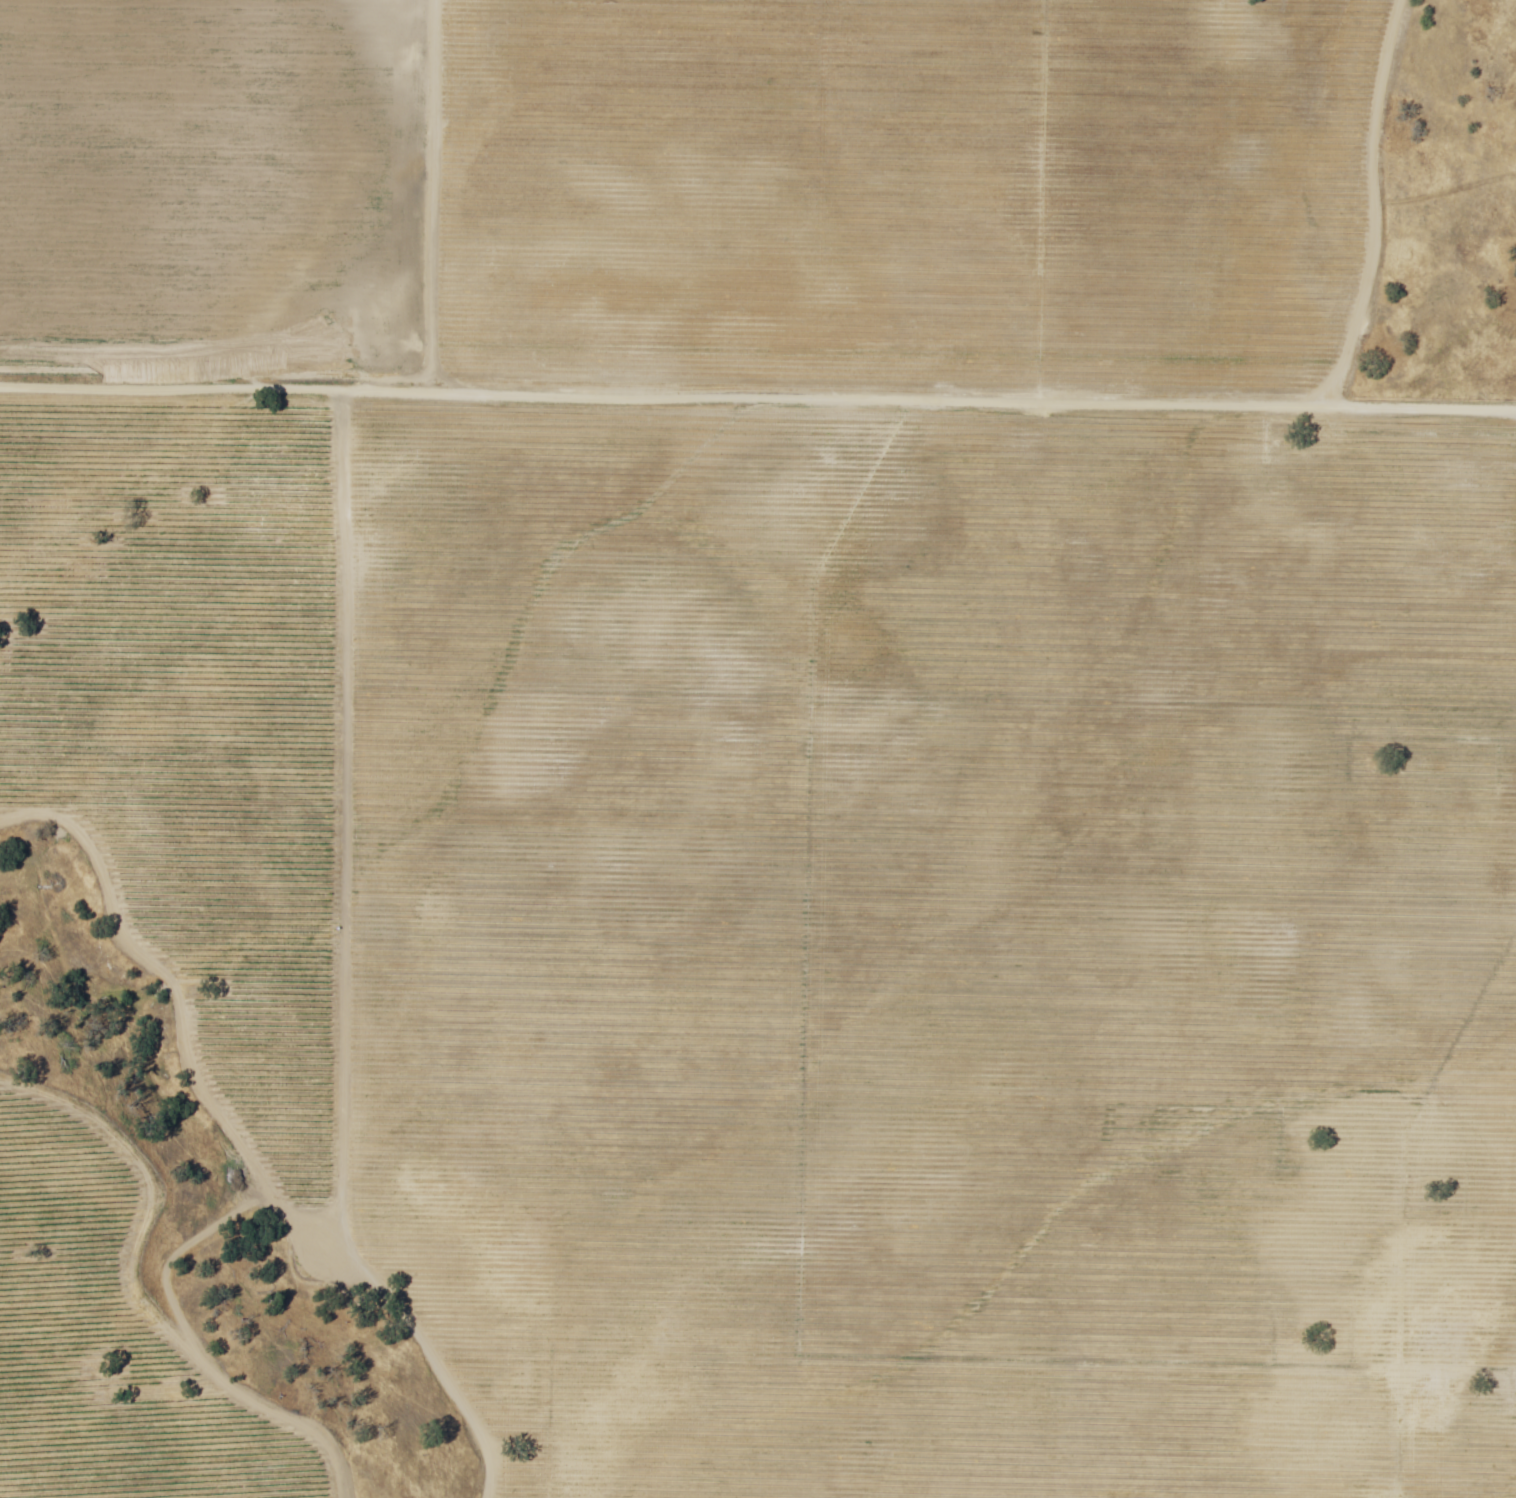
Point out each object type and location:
road: (757, 399)

